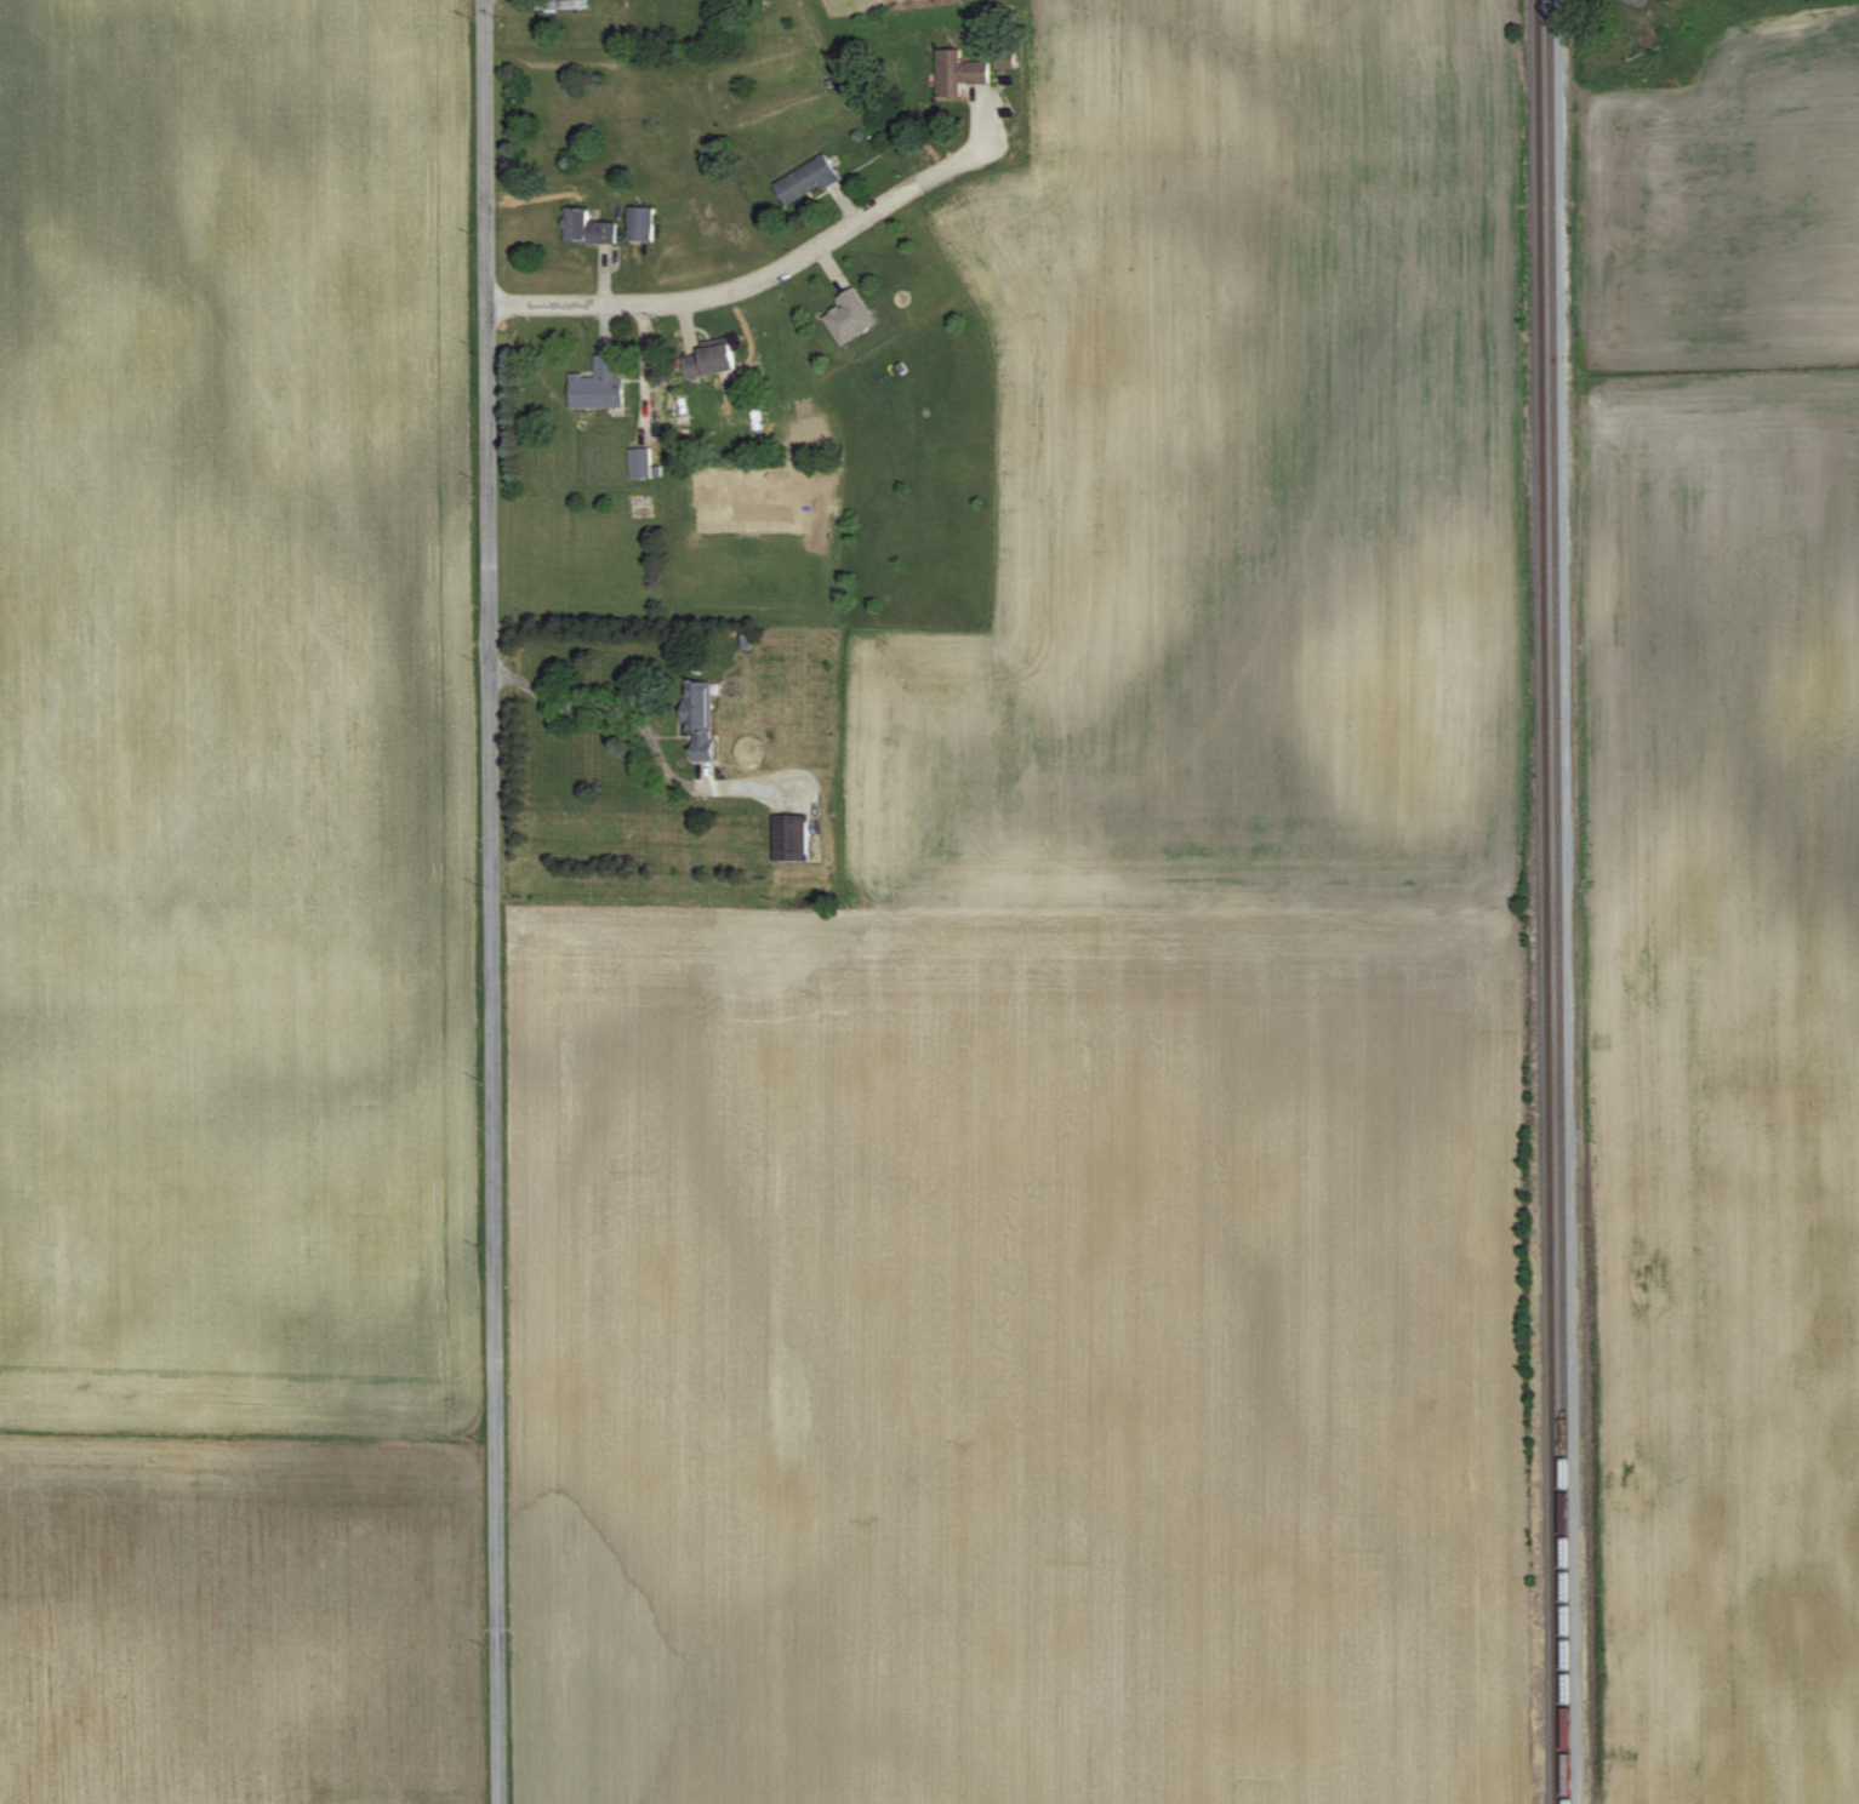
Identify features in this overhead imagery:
building: (560, 5)
building: (1003, 59)
building: (956, 73)
building: (805, 181)
building: (640, 224)
building: (586, 228)
road: (715, 296)
building: (850, 318)
building: (707, 362)
road: (649, 370)
building: (597, 387)
building: (640, 464)
building: (698, 717)
road: (635, 719)
road: (491, 901)
railway: (1546, 901)
railway: (1557, 902)

